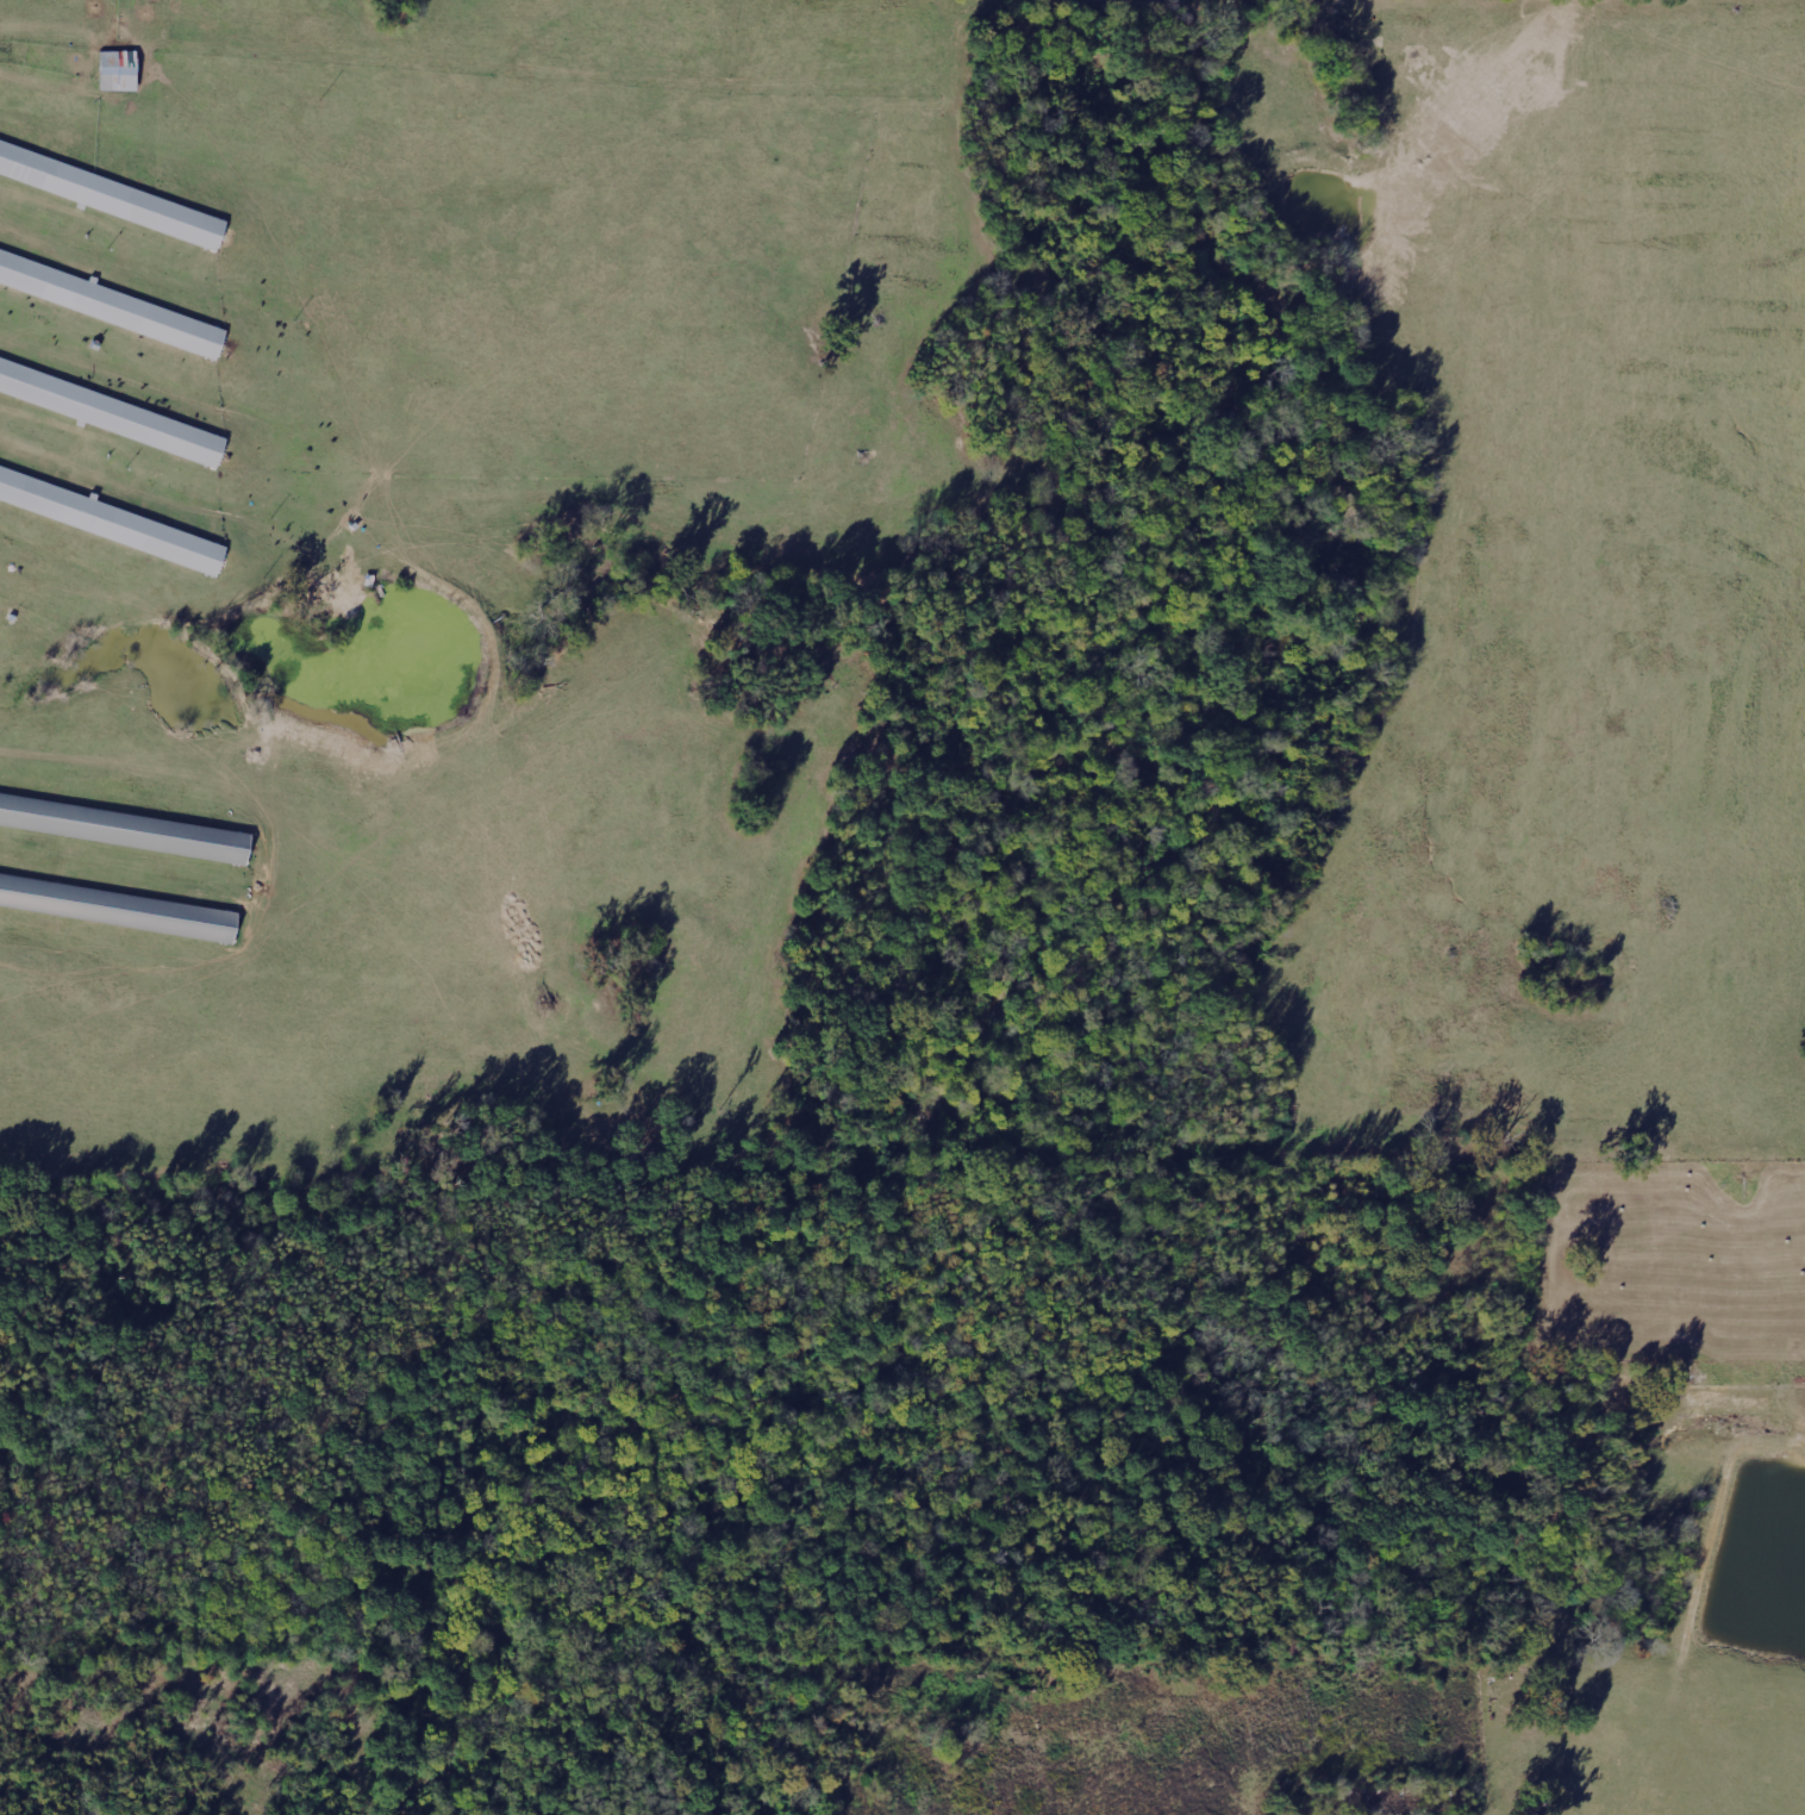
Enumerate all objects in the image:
building: (115, 70)
building: (110, 195)
building: (105, 304)
building: (108, 413)
building: (123, 827)
building: (6, 880)
building: (167, 917)

